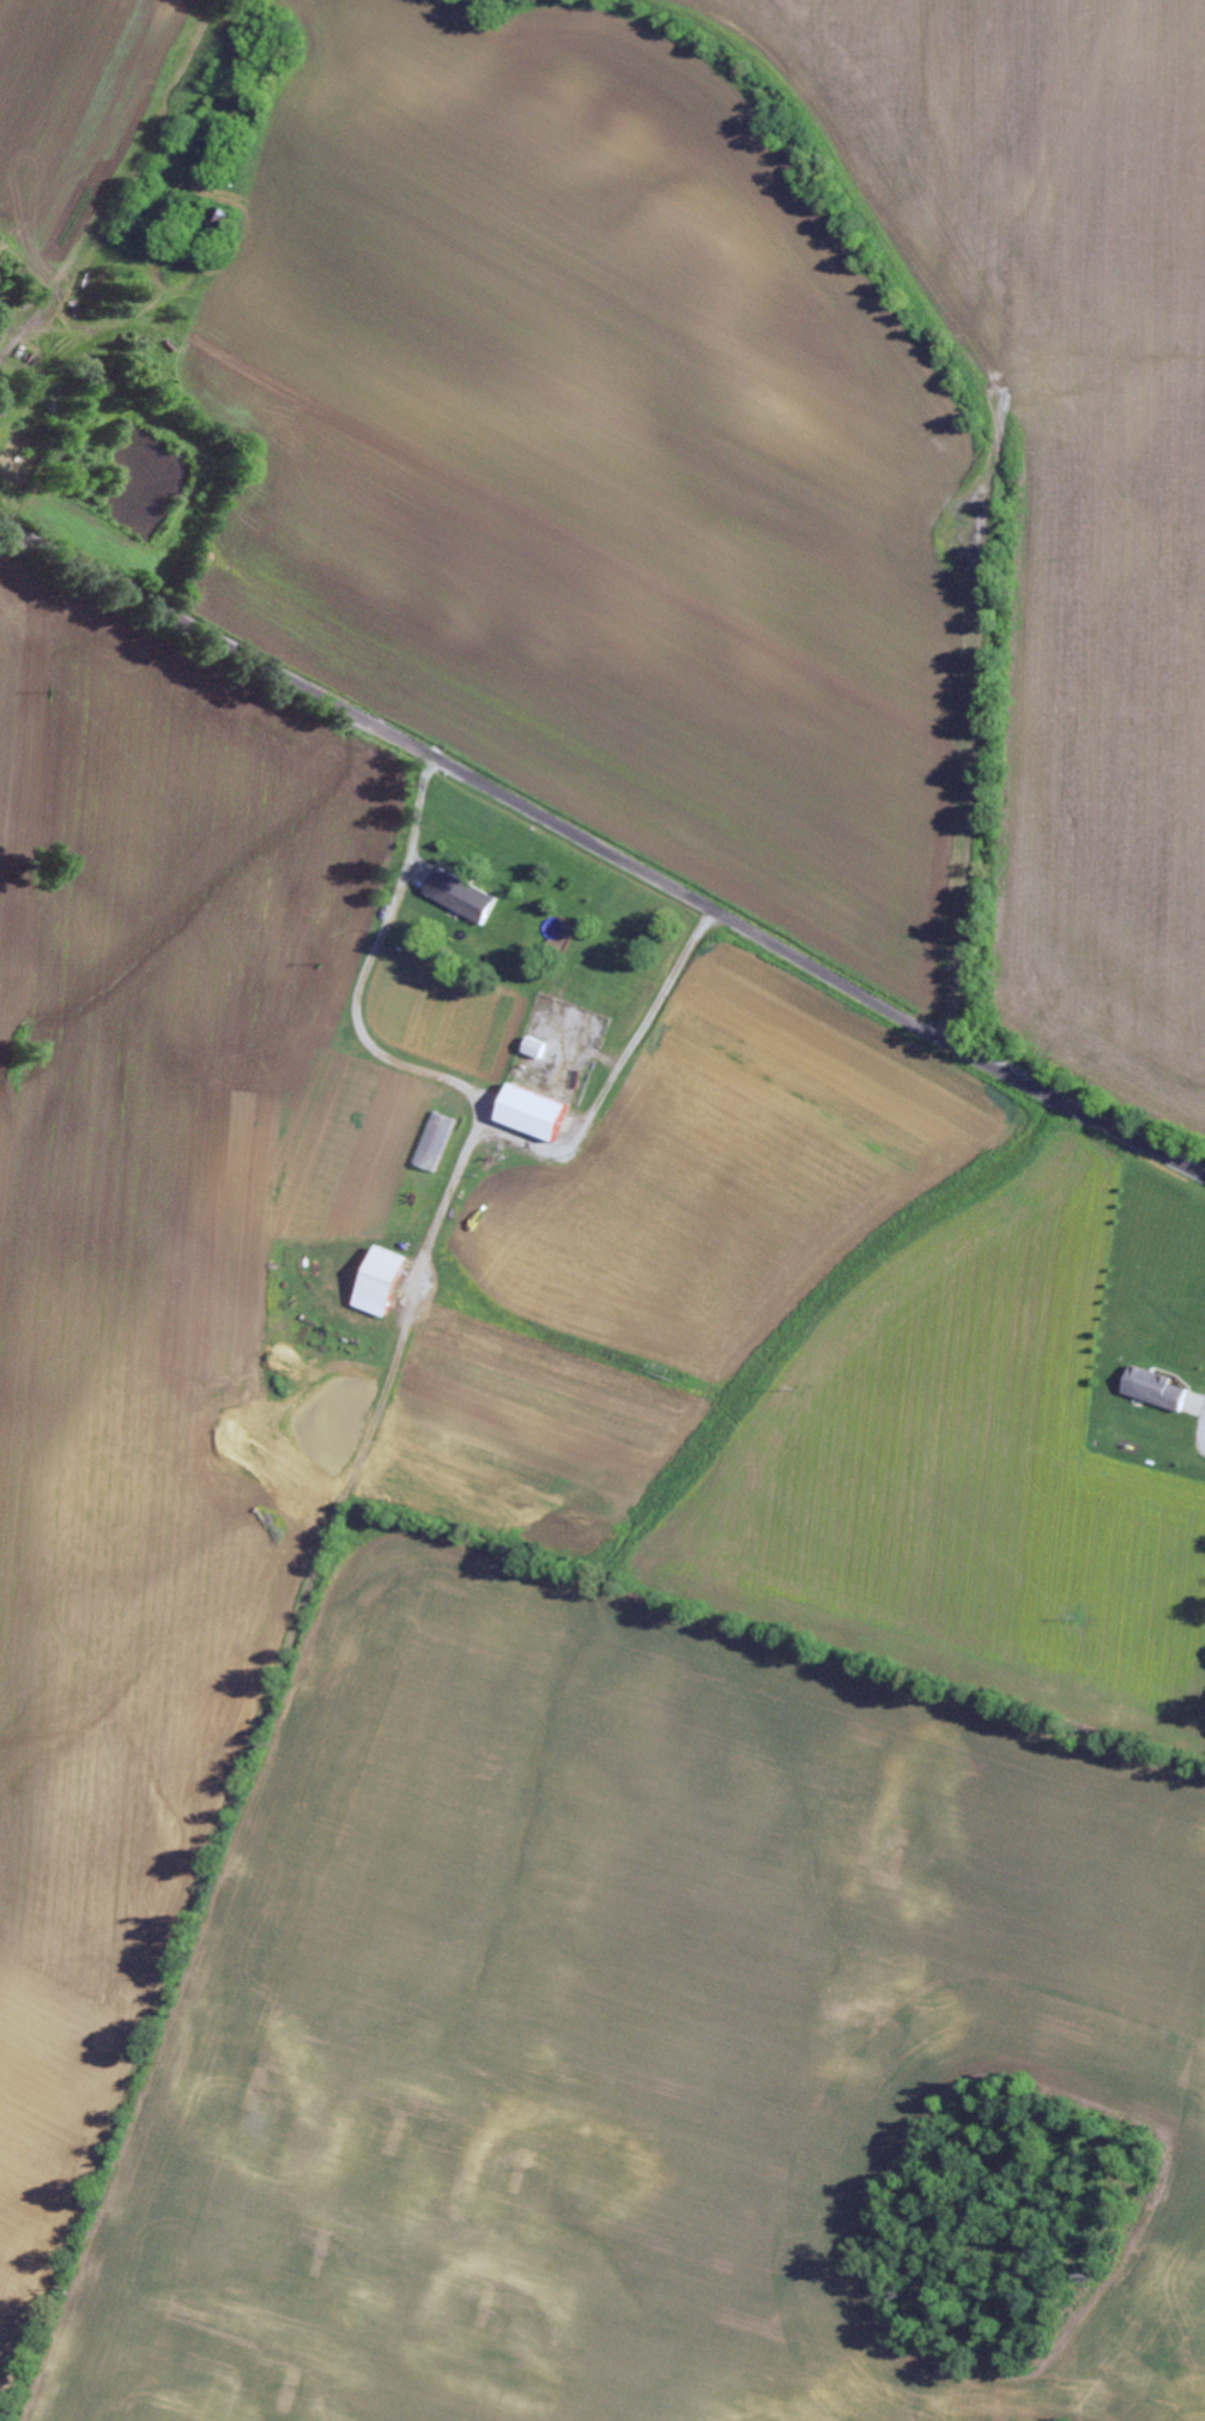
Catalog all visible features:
road: (602, 849)
building: (468, 896)
building: (541, 1048)
road: (343, 1064)
building: (544, 1113)
building: (438, 1142)
building: (390, 1283)
building: (1162, 1390)

